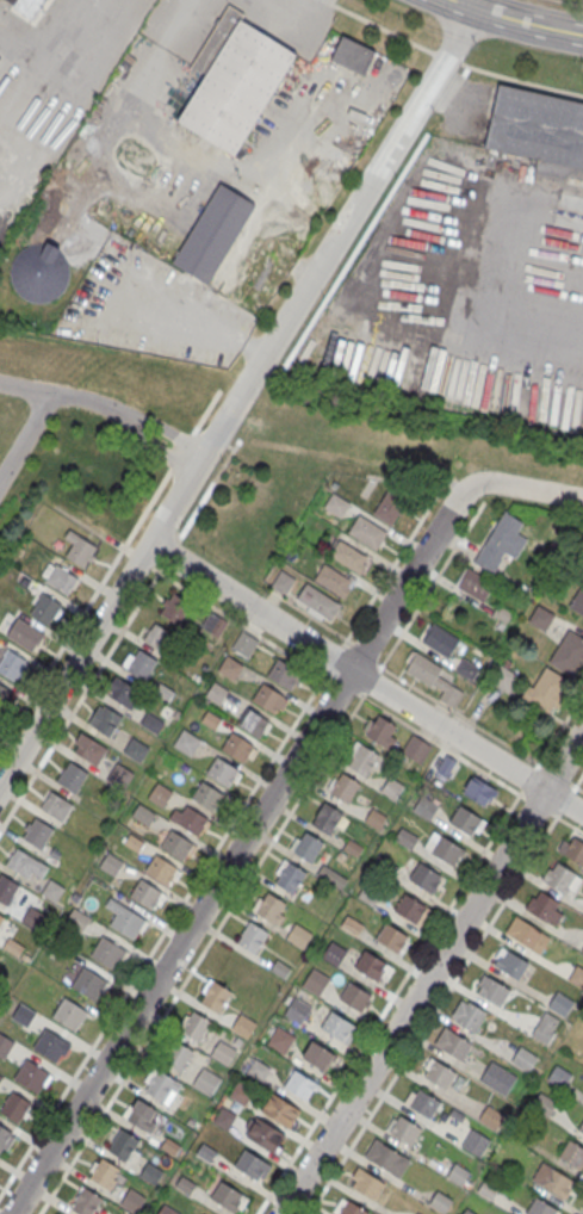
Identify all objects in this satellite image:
road: (573, 1)
building: (29, 6)
road: (284, 19)
road: (517, 20)
road: (179, 24)
road: (380, 26)
building: (353, 55)
road: (448, 57)
road: (148, 72)
road: (522, 79)
building: (234, 81)
building: (537, 126)
building: (213, 234)
building: (39, 273)
storage tank: (39, 273)
parking lot: (151, 308)
road: (61, 395)
road: (238, 397)
road: (206, 411)
road: (165, 427)
road: (24, 434)
road: (153, 444)
road: (181, 451)
park: (237, 471)
road: (402, 482)
road: (528, 489)
building: (336, 504)
building: (390, 506)
road: (548, 508)
building: (367, 531)
building: (501, 541)
building: (79, 549)
building: (349, 556)
road: (143, 564)
road: (389, 566)
building: (58, 577)
building: (333, 580)
building: (283, 581)
building: (475, 583)
road: (429, 586)
building: (578, 600)
building: (317, 601)
road: (269, 602)
road: (85, 607)
building: (175, 608)
building: (45, 609)
road: (312, 618)
building: (541, 619)
road: (237, 624)
building: (212, 625)
road: (118, 632)
building: (26, 634)
building: (157, 636)
building: (440, 639)
building: (246, 646)
road: (362, 652)
building: (569, 652)
road: (331, 657)
building: (141, 664)
building: (13, 665)
building: (422, 668)
building: (231, 669)
building: (467, 670)
building: (284, 673)
road: (365, 680)
building: (504, 680)
road: (371, 681)
road: (342, 686)
building: (547, 692)
building: (124, 693)
building: (4, 694)
building: (216, 694)
building: (269, 698)
road: (457, 713)
building: (106, 720)
building: (151, 721)
building: (254, 723)
road: (557, 727)
building: (380, 731)
building: (188, 743)
road: (440, 744)
building: (238, 747)
building: (88, 748)
building: (416, 749)
building: (135, 750)
building: (362, 761)
building: (442, 763)
building: (223, 772)
road: (553, 774)
building: (118, 775)
building: (72, 776)
road: (526, 779)
road: (577, 780)
road: (575, 786)
building: (392, 788)
building: (345, 789)
building: (479, 789)
building: (161, 795)
building: (207, 795)
road: (564, 800)
building: (56, 805)
road: (535, 805)
building: (147, 816)
building: (192, 819)
building: (327, 819)
building: (466, 820)
road: (565, 822)
building: (38, 832)
building: (405, 837)
building: (178, 844)
road: (241, 847)
building: (308, 848)
building: (444, 848)
building: (575, 849)
building: (21, 862)
building: (112, 866)
building: (162, 869)
building: (331, 877)
building: (424, 877)
building: (291, 879)
building: (562, 880)
building: (6, 888)
building: (51, 892)
building: (147, 893)
building: (370, 894)
building: (271, 909)
building: (545, 909)
building: (411, 910)
building: (1, 917)
building: (33, 919)
building: (79, 921)
building: (126, 921)
building: (352, 927)
road: (162, 931)
building: (527, 934)
building: (299, 936)
building: (391, 936)
building: (253, 939)
building: (582, 949)
building: (107, 952)
road: (200, 952)
building: (334, 954)
building: (513, 964)
building: (372, 967)
road: (432, 972)
building: (577, 975)
building: (88, 983)
building: (315, 984)
building: (492, 989)
building: (215, 996)
building: (354, 996)
road: (387, 1001)
building: (560, 1003)
building: (298, 1010)
road: (432, 1012)
building: (69, 1014)
building: (466, 1014)
building: (24, 1017)
building: (336, 1024)
building: (194, 1027)
building: (243, 1027)
building: (545, 1027)
building: (281, 1043)
building: (454, 1043)
building: (51, 1045)
building: (5, 1046)
building: (223, 1054)
building: (179, 1055)
building: (318, 1055)
building: (523, 1058)
building: (259, 1071)
building: (440, 1073)
building: (32, 1076)
building: (559, 1076)
building: (498, 1077)
building: (1, 1079)
building: (206, 1083)
building: (299, 1083)
building: (160, 1086)
building: (242, 1095)
building: (424, 1103)
building: (15, 1107)
building: (280, 1109)
building: (141, 1116)
building: (491, 1116)
building: (224, 1119)
building: (581, 1126)
building: (404, 1129)
building: (265, 1133)
building: (4, 1135)
building: (475, 1141)
building: (123, 1147)
building: (572, 1153)
building: (387, 1157)
building: (250, 1163)
building: (457, 1172)
building: (150, 1173)
building: (105, 1176)
building: (553, 1179)
building: (368, 1184)
building: (228, 1196)
building: (131, 1201)
building: (440, 1201)
building: (86, 1203)
building: (540, 1207)
building: (352, 1208)
building: (167, 1210)
road: (581, 1212)
building: (62, 1213)
building: (198, 1213)
building: (417, 1213)

